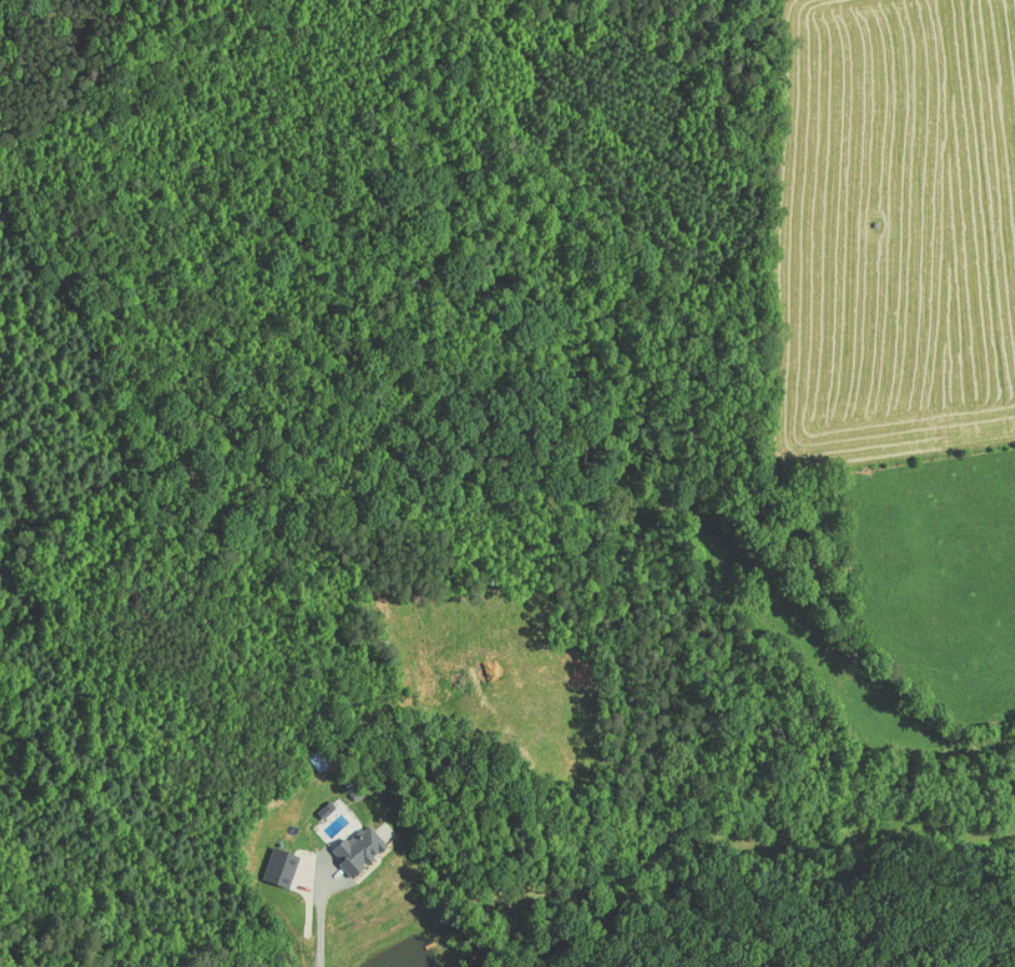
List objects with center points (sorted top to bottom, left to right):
building: (314, 803)
building: (347, 843)
building: (269, 861)
road: (321, 921)

